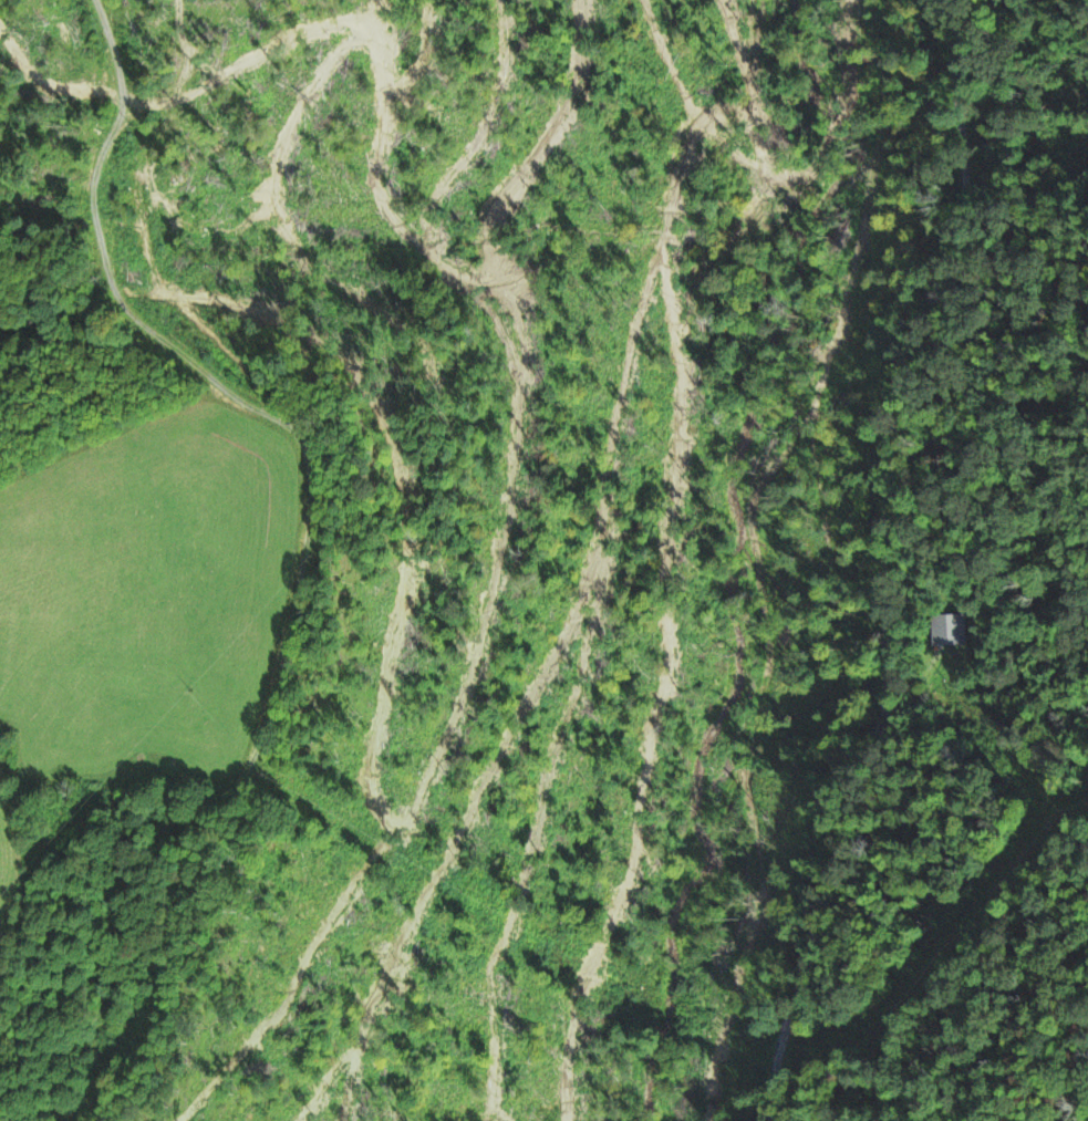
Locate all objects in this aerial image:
road: (890, 561)

